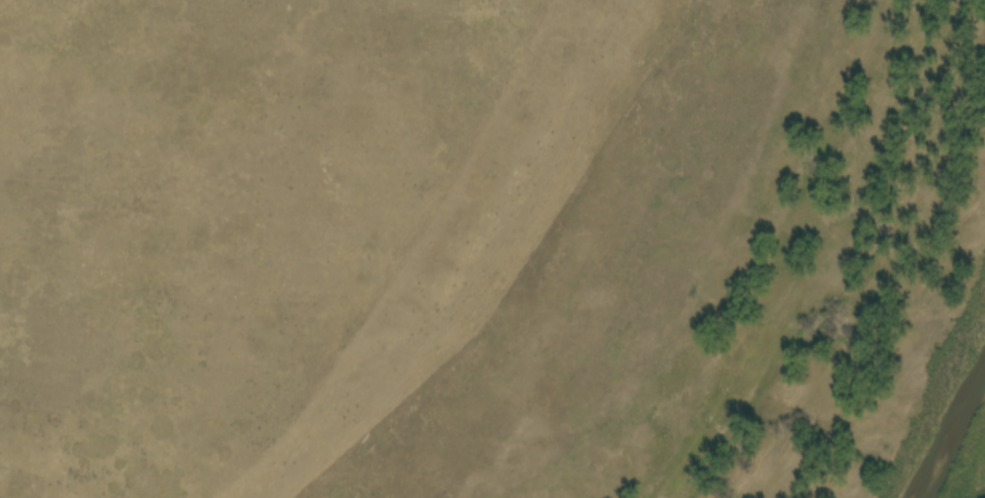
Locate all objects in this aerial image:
river: (962, 447)

